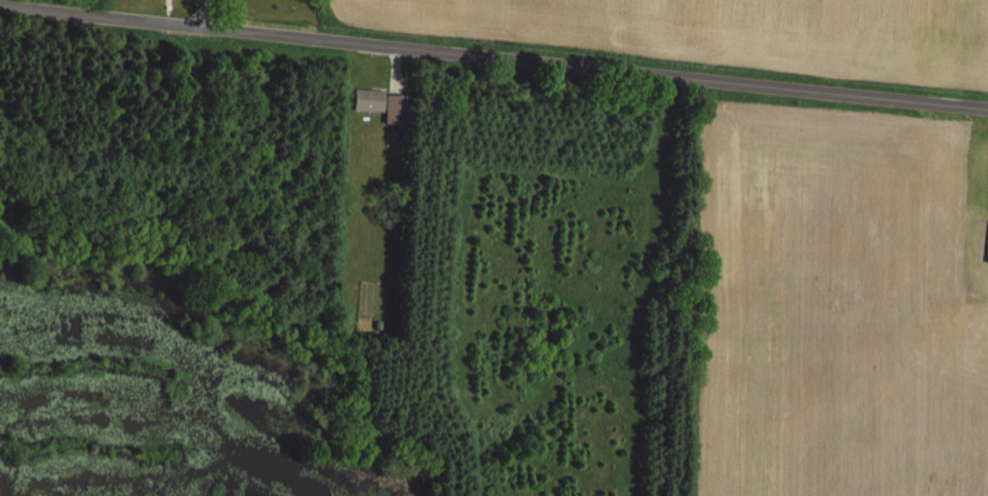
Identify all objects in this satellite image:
road: (494, 56)
building: (370, 99)
building: (400, 109)

